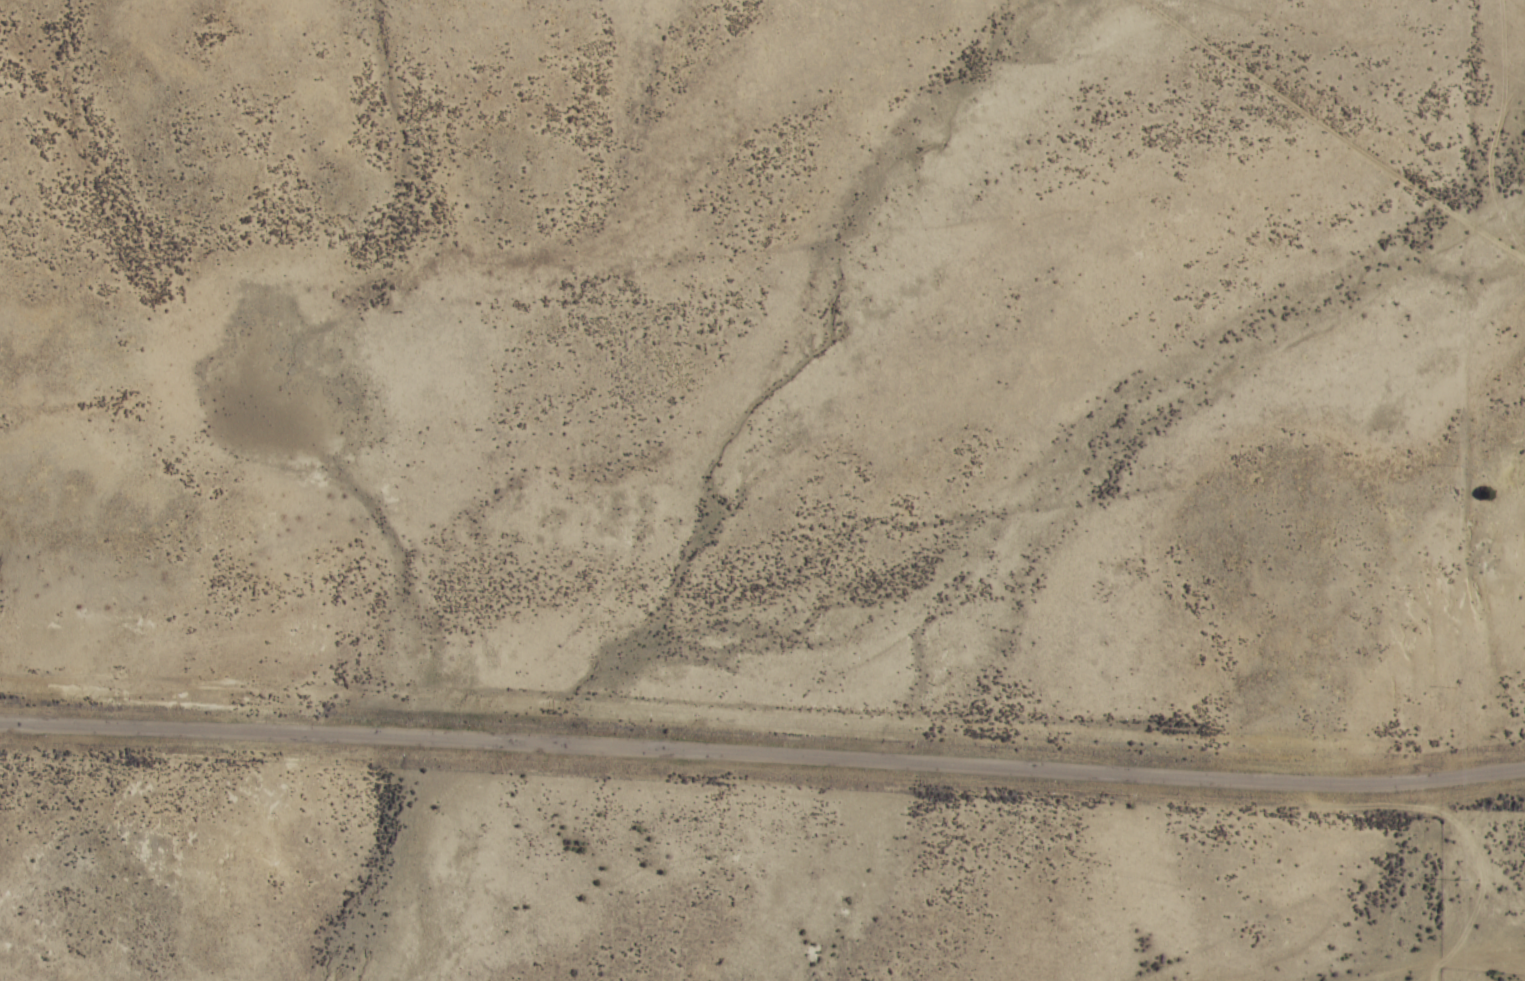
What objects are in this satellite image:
road: (1340, 135)
road: (762, 754)

